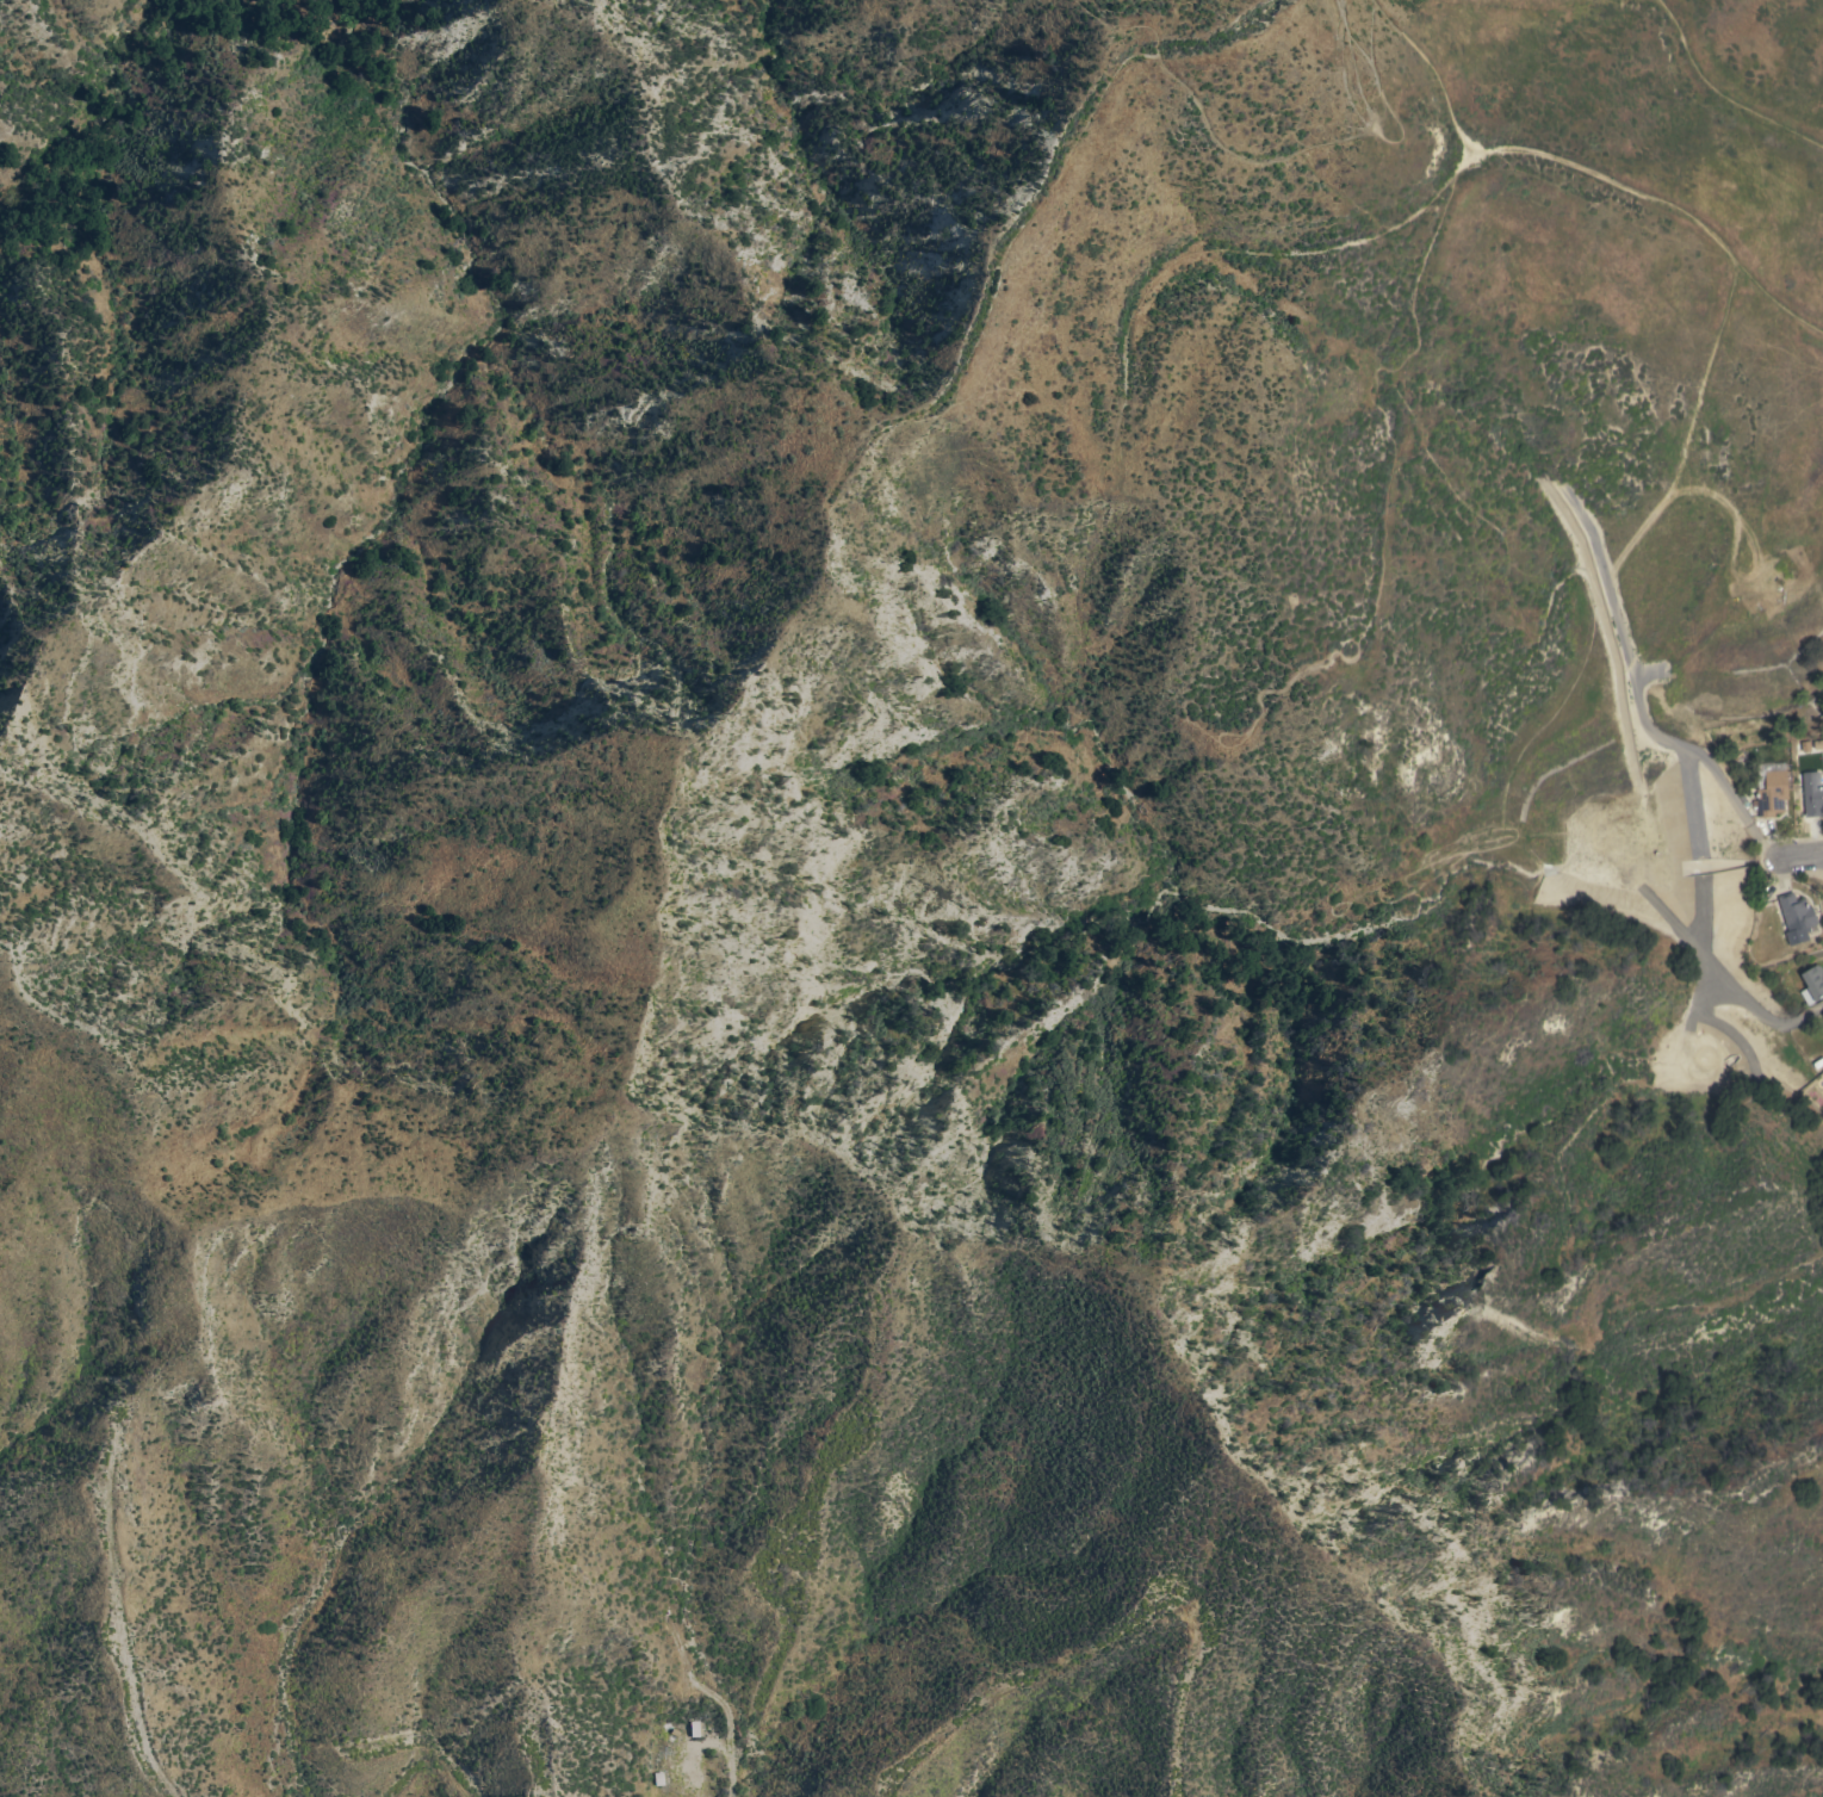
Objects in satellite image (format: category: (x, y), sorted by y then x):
building: (1771, 788)
building: (1811, 794)
road: (1799, 856)
building: (1796, 917)
building: (1812, 984)
building: (1822, 1014)

